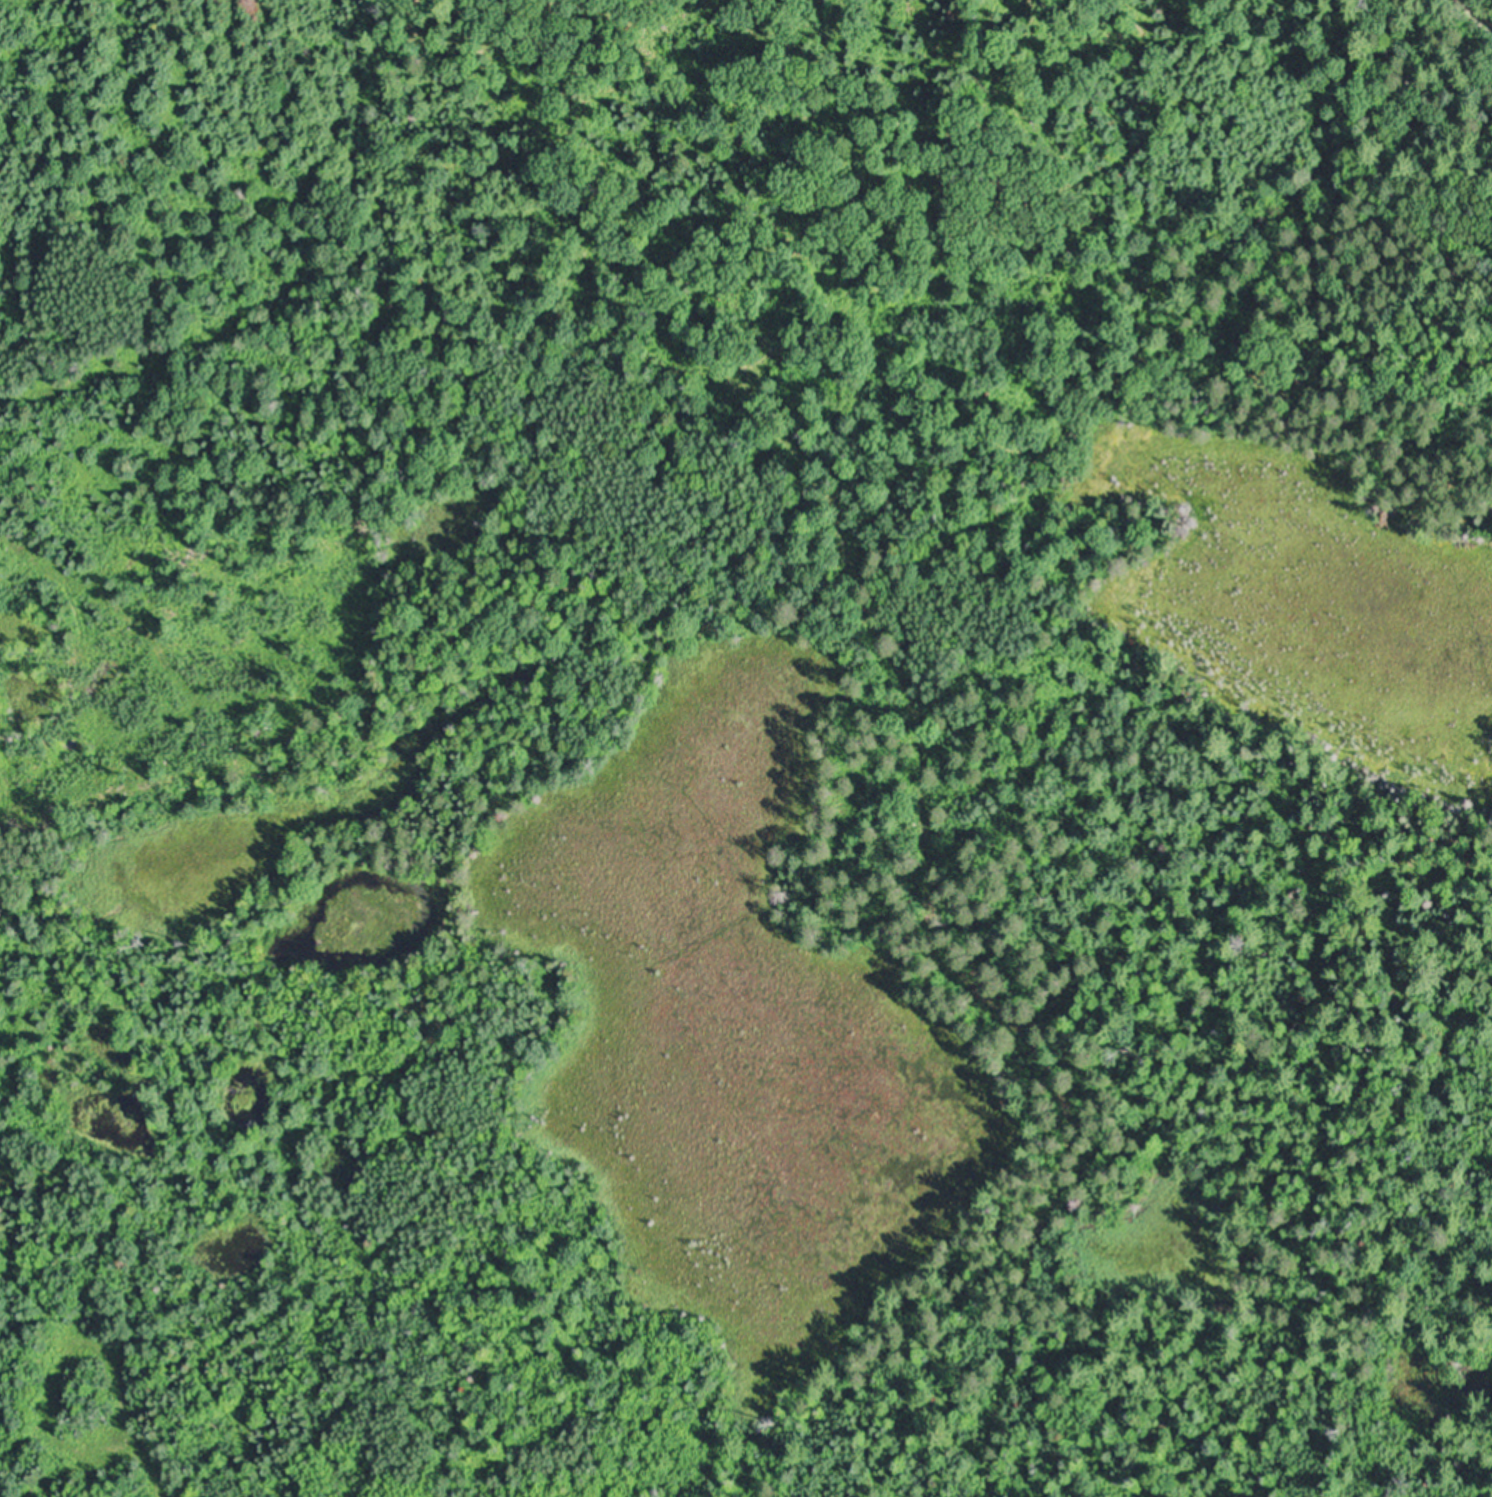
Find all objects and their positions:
road: (1476, 14)

